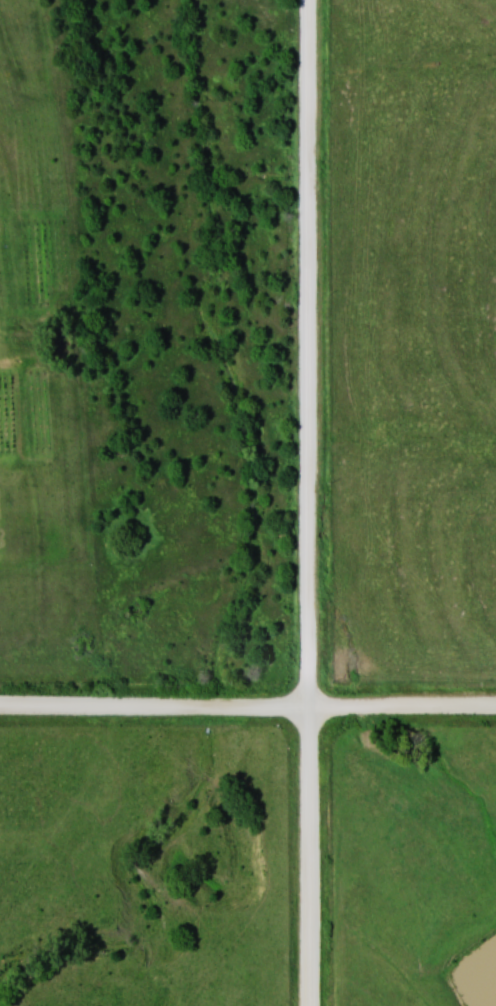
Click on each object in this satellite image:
road: (310, 503)
road: (248, 709)

